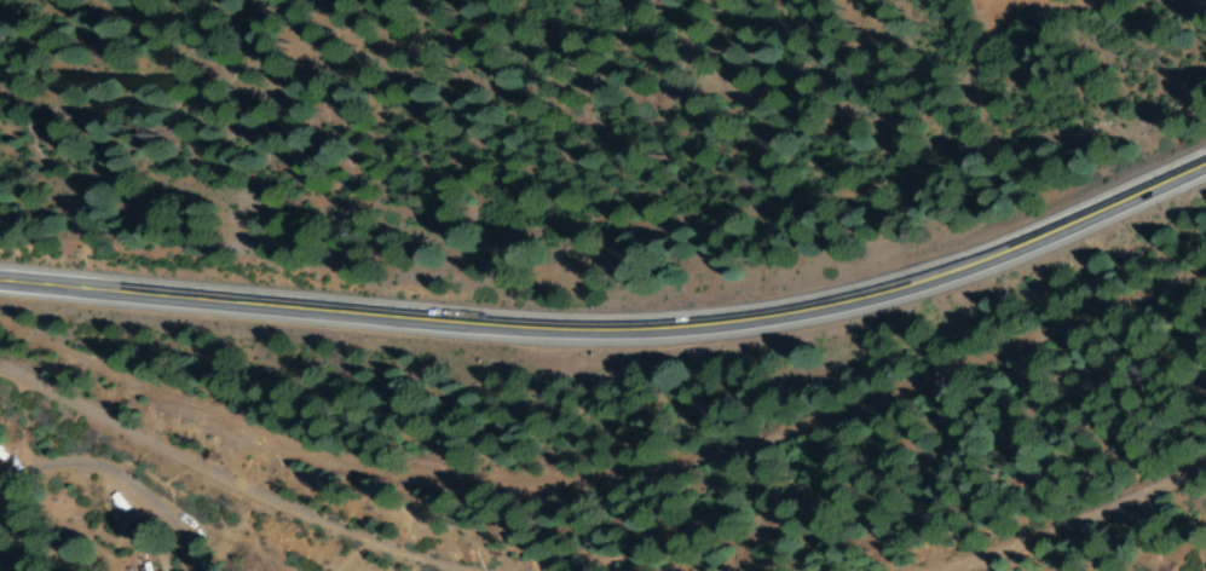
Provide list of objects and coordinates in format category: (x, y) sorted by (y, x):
road: (1115, 1)
road: (617, 325)
railway: (214, 478)
road: (87, 500)
railway: (1069, 514)
road: (1184, 564)

